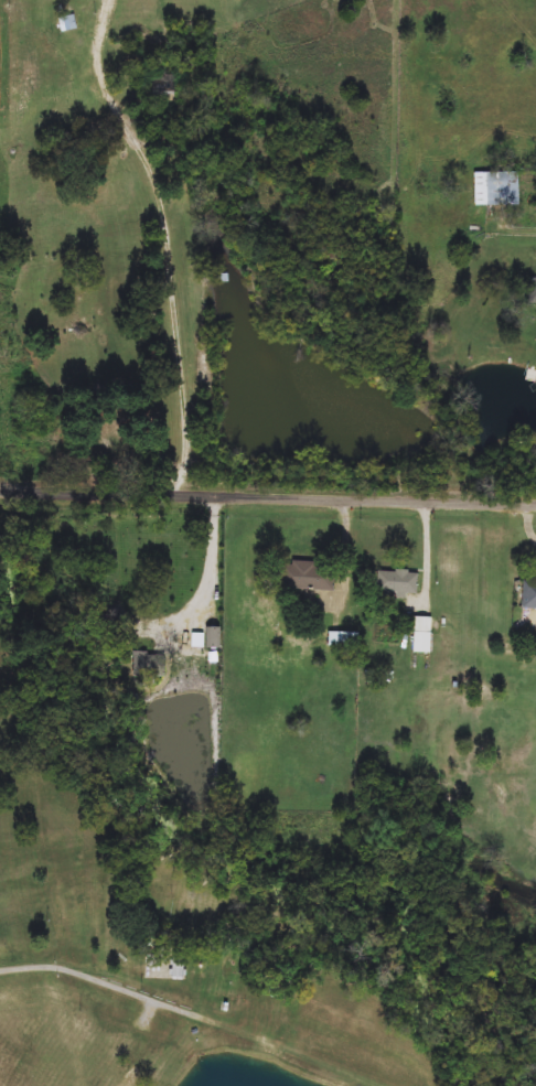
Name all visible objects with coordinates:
building: (68, 23)
building: (163, 87)
building: (497, 189)
road: (524, 223)
road: (171, 243)
building: (533, 291)
road: (267, 495)
road: (213, 561)
building: (310, 577)
building: (398, 582)
building: (530, 593)
building: (214, 637)
building: (345, 639)
building: (153, 662)
building: (179, 968)
road: (95, 976)
road: (179, 1049)
road: (307, 1058)
building: (132, 1077)

